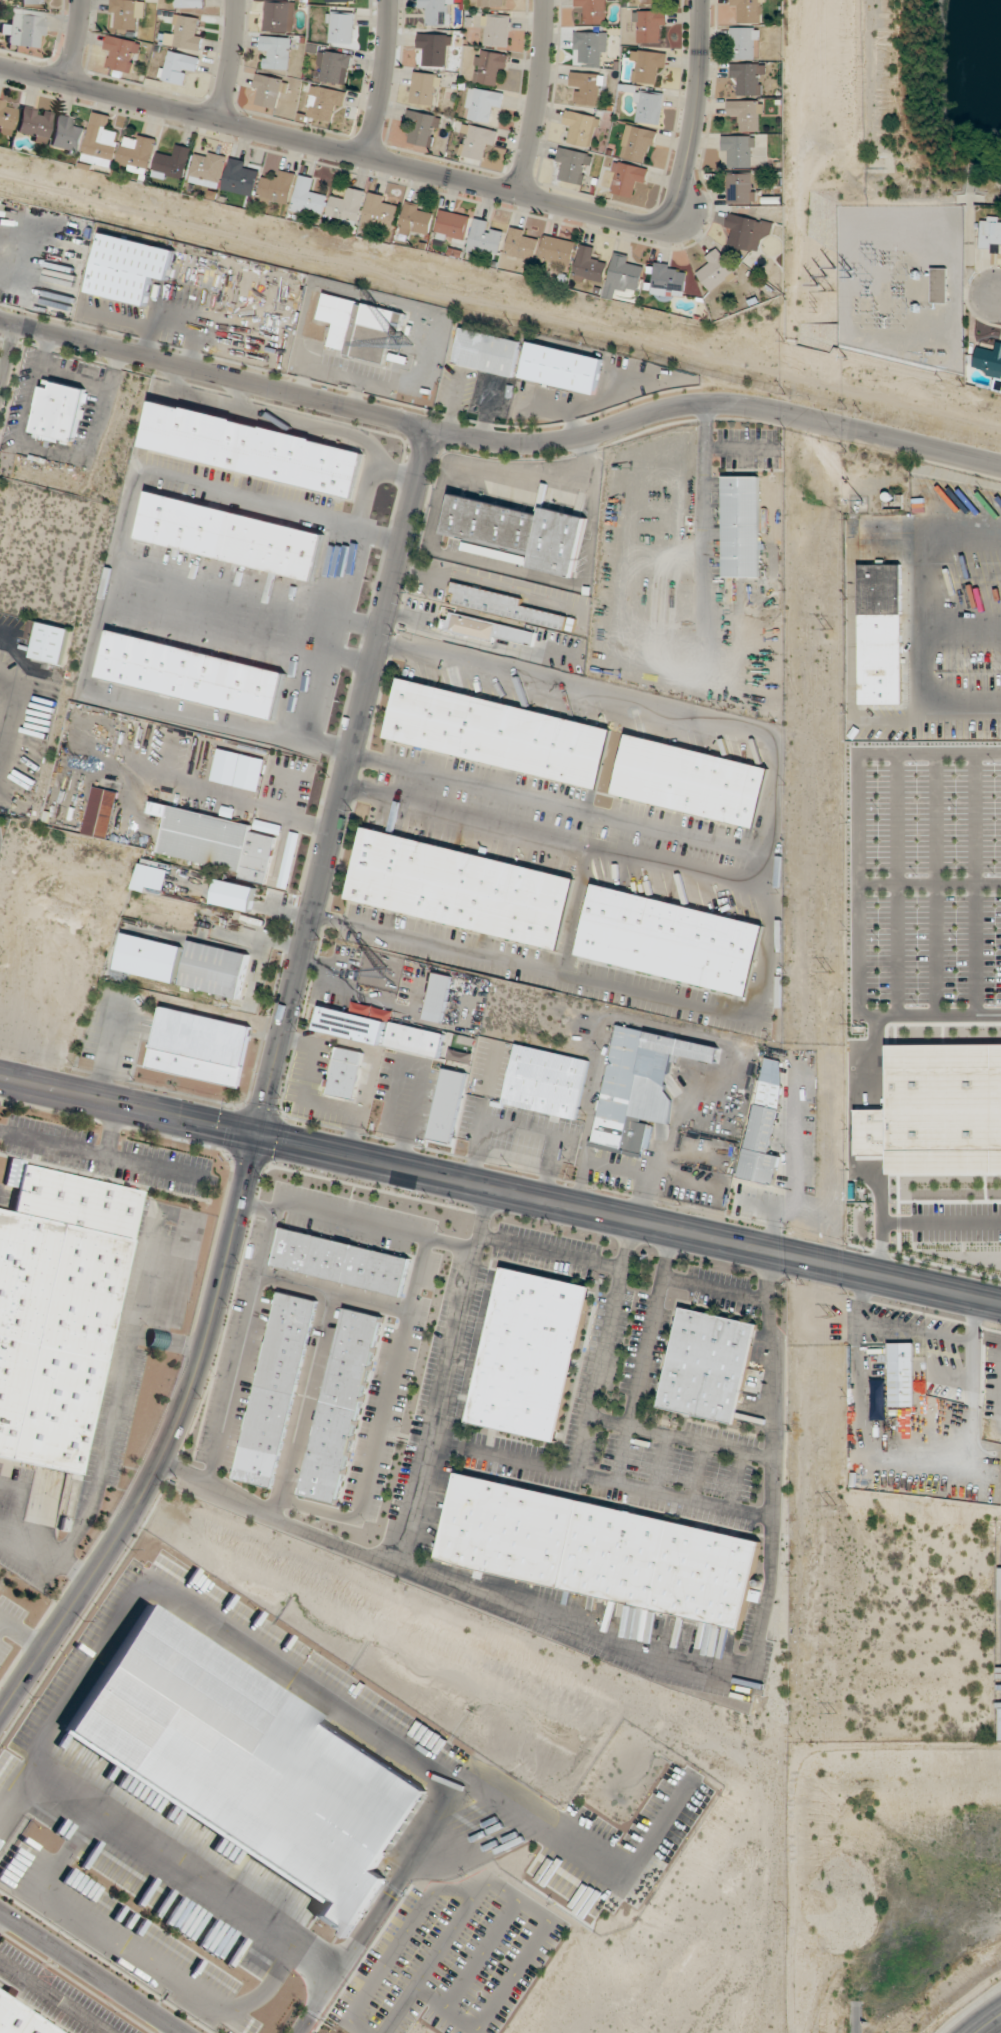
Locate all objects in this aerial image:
building: (338, 0)
building: (31, 1)
building: (650, 1)
building: (190, 3)
building: (490, 3)
building: (436, 10)
building: (592, 10)
building: (748, 10)
building: (126, 13)
building: (279, 16)
building: (650, 26)
building: (340, 27)
building: (26, 28)
building: (496, 30)
building: (185, 34)
road: (77, 41)
building: (743, 43)
building: (591, 46)
building: (434, 49)
building: (276, 52)
building: (122, 53)
road: (230, 60)
building: (647, 65)
building: (176, 66)
building: (489, 66)
building: (333, 68)
building: (749, 78)
road: (382, 79)
building: (588, 87)
building: (424, 88)
building: (267, 90)
road: (536, 97)
building: (324, 103)
building: (482, 103)
building: (648, 107)
building: (6, 114)
building: (746, 114)
building: (33, 123)
building: (423, 128)
building: (581, 128)
building: (66, 135)
building: (102, 140)
building: (475, 141)
building: (638, 144)
building: (738, 150)
building: (137, 152)
building: (173, 163)
building: (574, 165)
building: (208, 169)
road: (441, 175)
building: (241, 177)
building: (629, 179)
building: (278, 187)
building: (741, 188)
building: (310, 197)
building: (348, 205)
building: (381, 212)
building: (417, 219)
building: (453, 227)
building: (740, 231)
building: (990, 233)
building: (486, 238)
building: (523, 244)
building: (558, 250)
building: (590, 266)
building: (129, 267)
building: (715, 270)
building: (623, 275)
building: (669, 280)
power substation: (906, 281)
building: (939, 285)
road: (996, 297)
building: (364, 330)
building: (487, 352)
road: (7, 355)
building: (988, 359)
building: (563, 368)
road: (72, 379)
road: (191, 398)
building: (59, 411)
road: (302, 424)
road: (499, 441)
road: (52, 447)
building: (252, 449)
road: (504, 469)
building: (921, 493)
building: (741, 526)
building: (520, 532)
building: (883, 532)
building: (231, 535)
road: (101, 577)
road: (337, 585)
road: (492, 586)
road: (242, 603)
building: (501, 605)
building: (488, 630)
road: (9, 632)
building: (880, 633)
building: (47, 641)
building: (951, 654)
building: (970, 657)
road: (346, 662)
building: (192, 674)
road: (634, 705)
building: (499, 733)
building: (250, 772)
building: (692, 781)
road: (233, 800)
building: (100, 812)
building: (215, 842)
road: (749, 875)
building: (461, 888)
building: (234, 894)
road: (576, 912)
building: (670, 940)
road: (769, 946)
building: (150, 957)
road: (536, 966)
building: (214, 969)
building: (438, 997)
building: (356, 1022)
building: (415, 1039)
building: (200, 1047)
building: (973, 1054)
building: (460, 1057)
building: (345, 1073)
building: (546, 1081)
road: (268, 1091)
building: (646, 1113)
building: (764, 1124)
road: (111, 1130)
traffic signals: (257, 1136)
road: (103, 1156)
road: (500, 1190)
road: (259, 1208)
road: (269, 1245)
road: (549, 1252)
building: (341, 1262)
road: (715, 1290)
road: (335, 1292)
road: (861, 1298)
building: (56, 1308)
road: (976, 1322)
road: (130, 1332)
road: (916, 1332)
road: (166, 1342)
road: (604, 1347)
building: (530, 1354)
road: (645, 1356)
building: (708, 1365)
building: (900, 1375)
road: (441, 1377)
road: (775, 1384)
building: (276, 1389)
road: (999, 1399)
road: (305, 1404)
building: (340, 1405)
road: (382, 1415)
road: (681, 1438)
road: (657, 1462)
road: (697, 1471)
road: (600, 1479)
road: (731, 1479)
road: (17, 1504)
building: (600, 1550)
road: (26, 1552)
road: (525, 1612)
road: (2, 1620)
road: (2, 1625)
road: (24, 1633)
building: (248, 1765)
road: (447, 1889)
road: (217, 1896)
road: (1, 1915)
road: (91, 1971)
road: (52, 1997)
building: (19, 2020)
road: (987, 2023)
road: (174, 2030)

